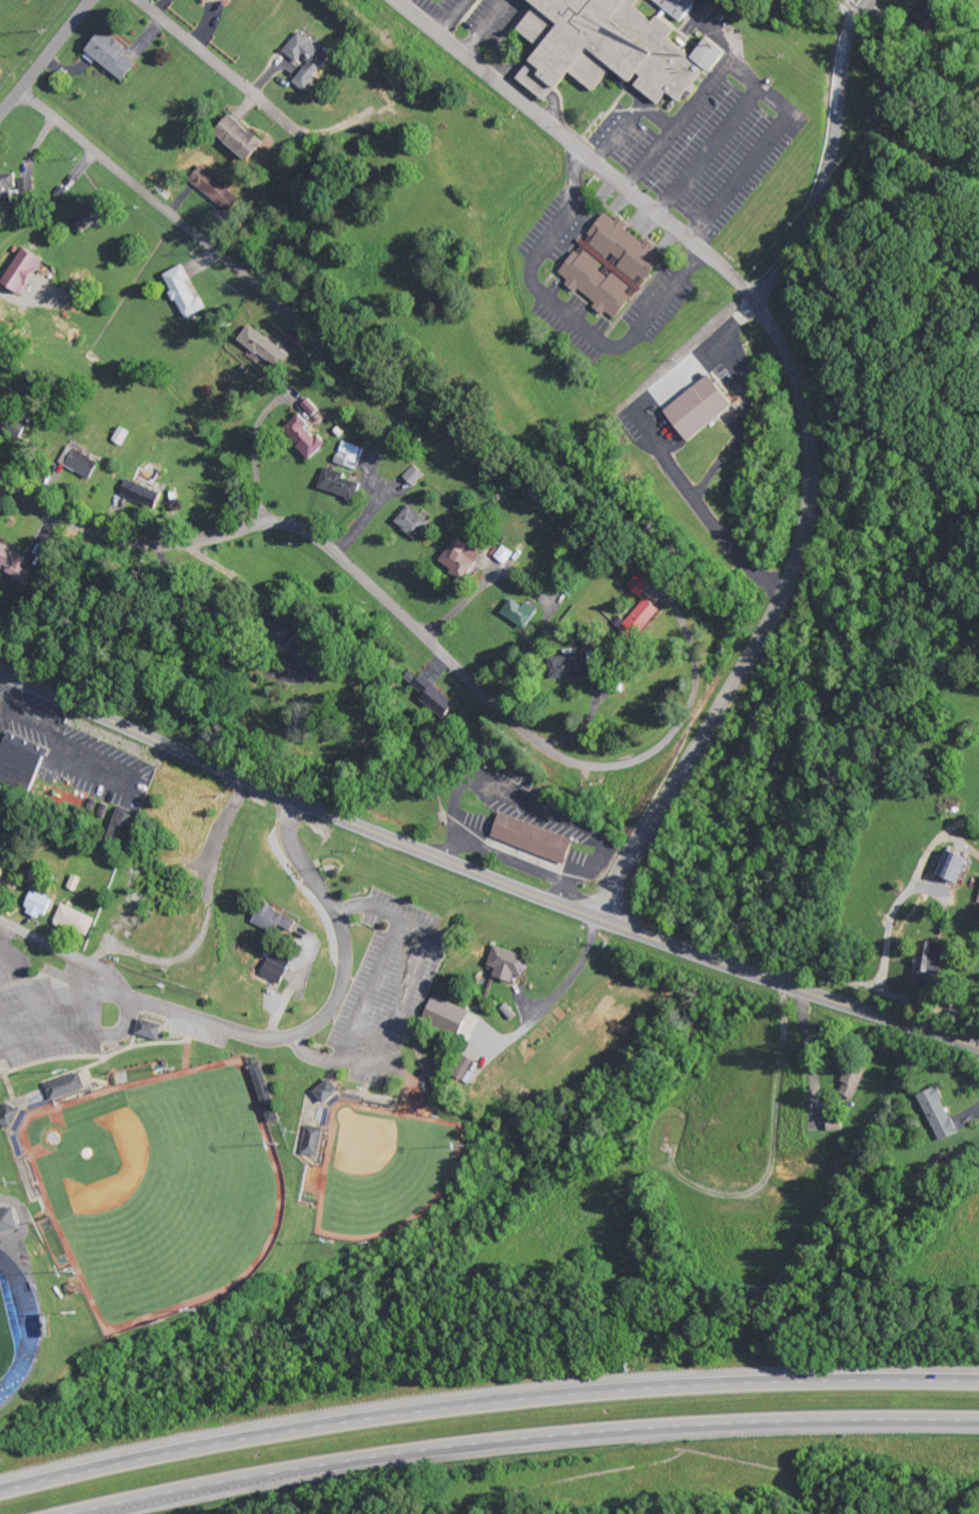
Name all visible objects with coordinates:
building: (209, 0)
building: (672, 6)
building: (603, 45)
building: (116, 55)
road: (45, 56)
building: (310, 60)
road: (214, 64)
building: (246, 138)
road: (831, 159)
building: (213, 184)
building: (33, 185)
building: (95, 217)
road: (184, 223)
building: (609, 264)
building: (29, 269)
building: (181, 291)
building: (261, 346)
road: (796, 396)
building: (308, 406)
building: (697, 407)
building: (301, 436)
road: (255, 456)
building: (86, 463)
building: (411, 475)
building: (339, 484)
building: (140, 493)
building: (408, 521)
building: (455, 557)
building: (17, 563)
building: (639, 582)
road: (382, 600)
building: (516, 612)
building: (637, 619)
building: (279, 634)
building: (567, 665)
building: (428, 692)
building: (22, 761)
building: (530, 837)
building: (948, 866)
building: (3, 868)
road: (484, 874)
building: (978, 896)
building: (42, 904)
building: (77, 919)
building: (271, 920)
road: (21, 932)
building: (925, 962)
building: (503, 964)
building: (273, 968)
road: (368, 986)
road: (404, 993)
building: (443, 1016)
building: (151, 1029)
road: (75, 1036)
road: (281, 1037)
road: (388, 1063)
building: (66, 1086)
building: (322, 1090)
building: (929, 1114)
building: (11, 1115)
building: (831, 1123)
building: (310, 1140)
park: (382, 1168)
park: (159, 1185)
building: (10, 1220)
track: (19, 1322)
road: (485, 1402)
road: (528, 1441)

